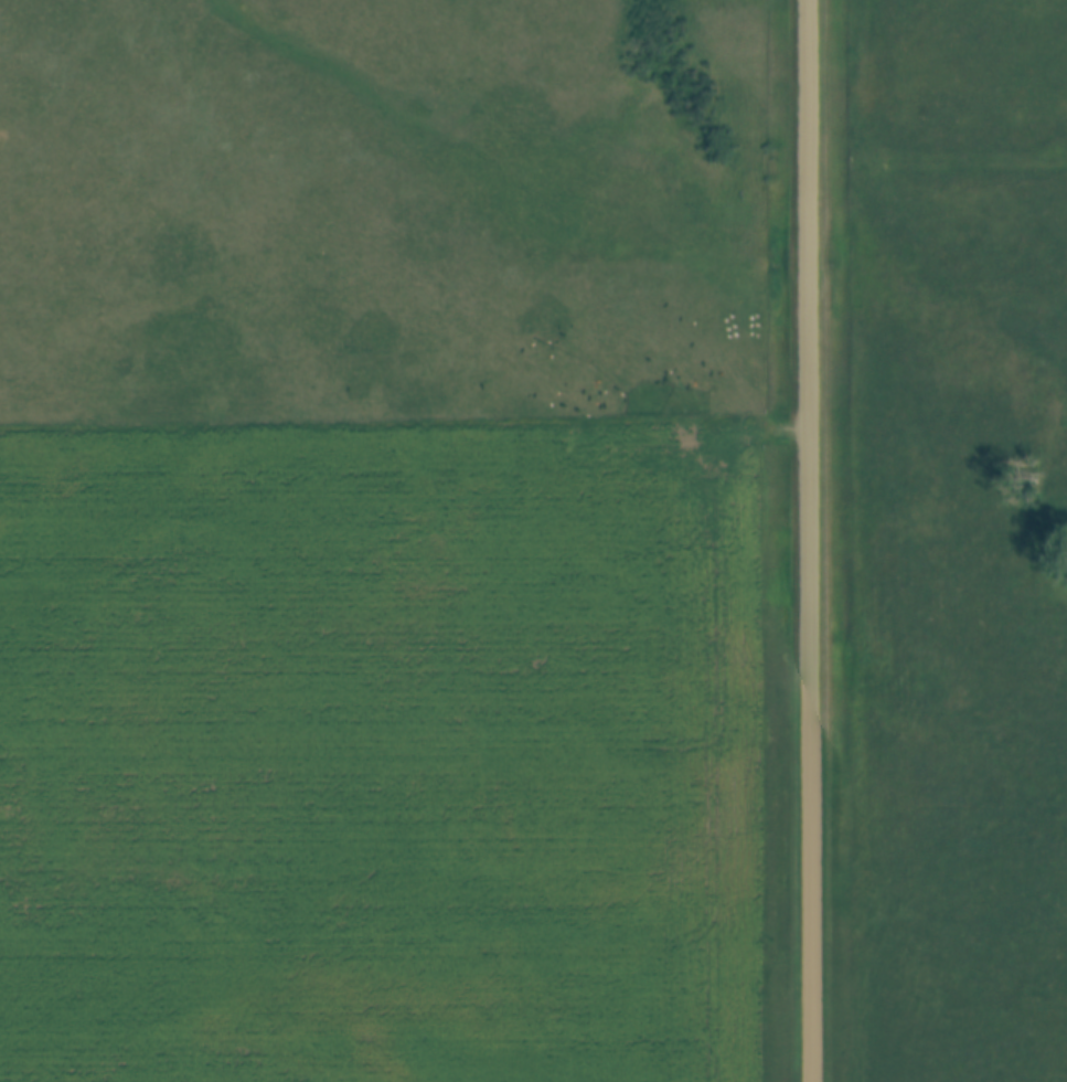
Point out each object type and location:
road: (807, 540)

